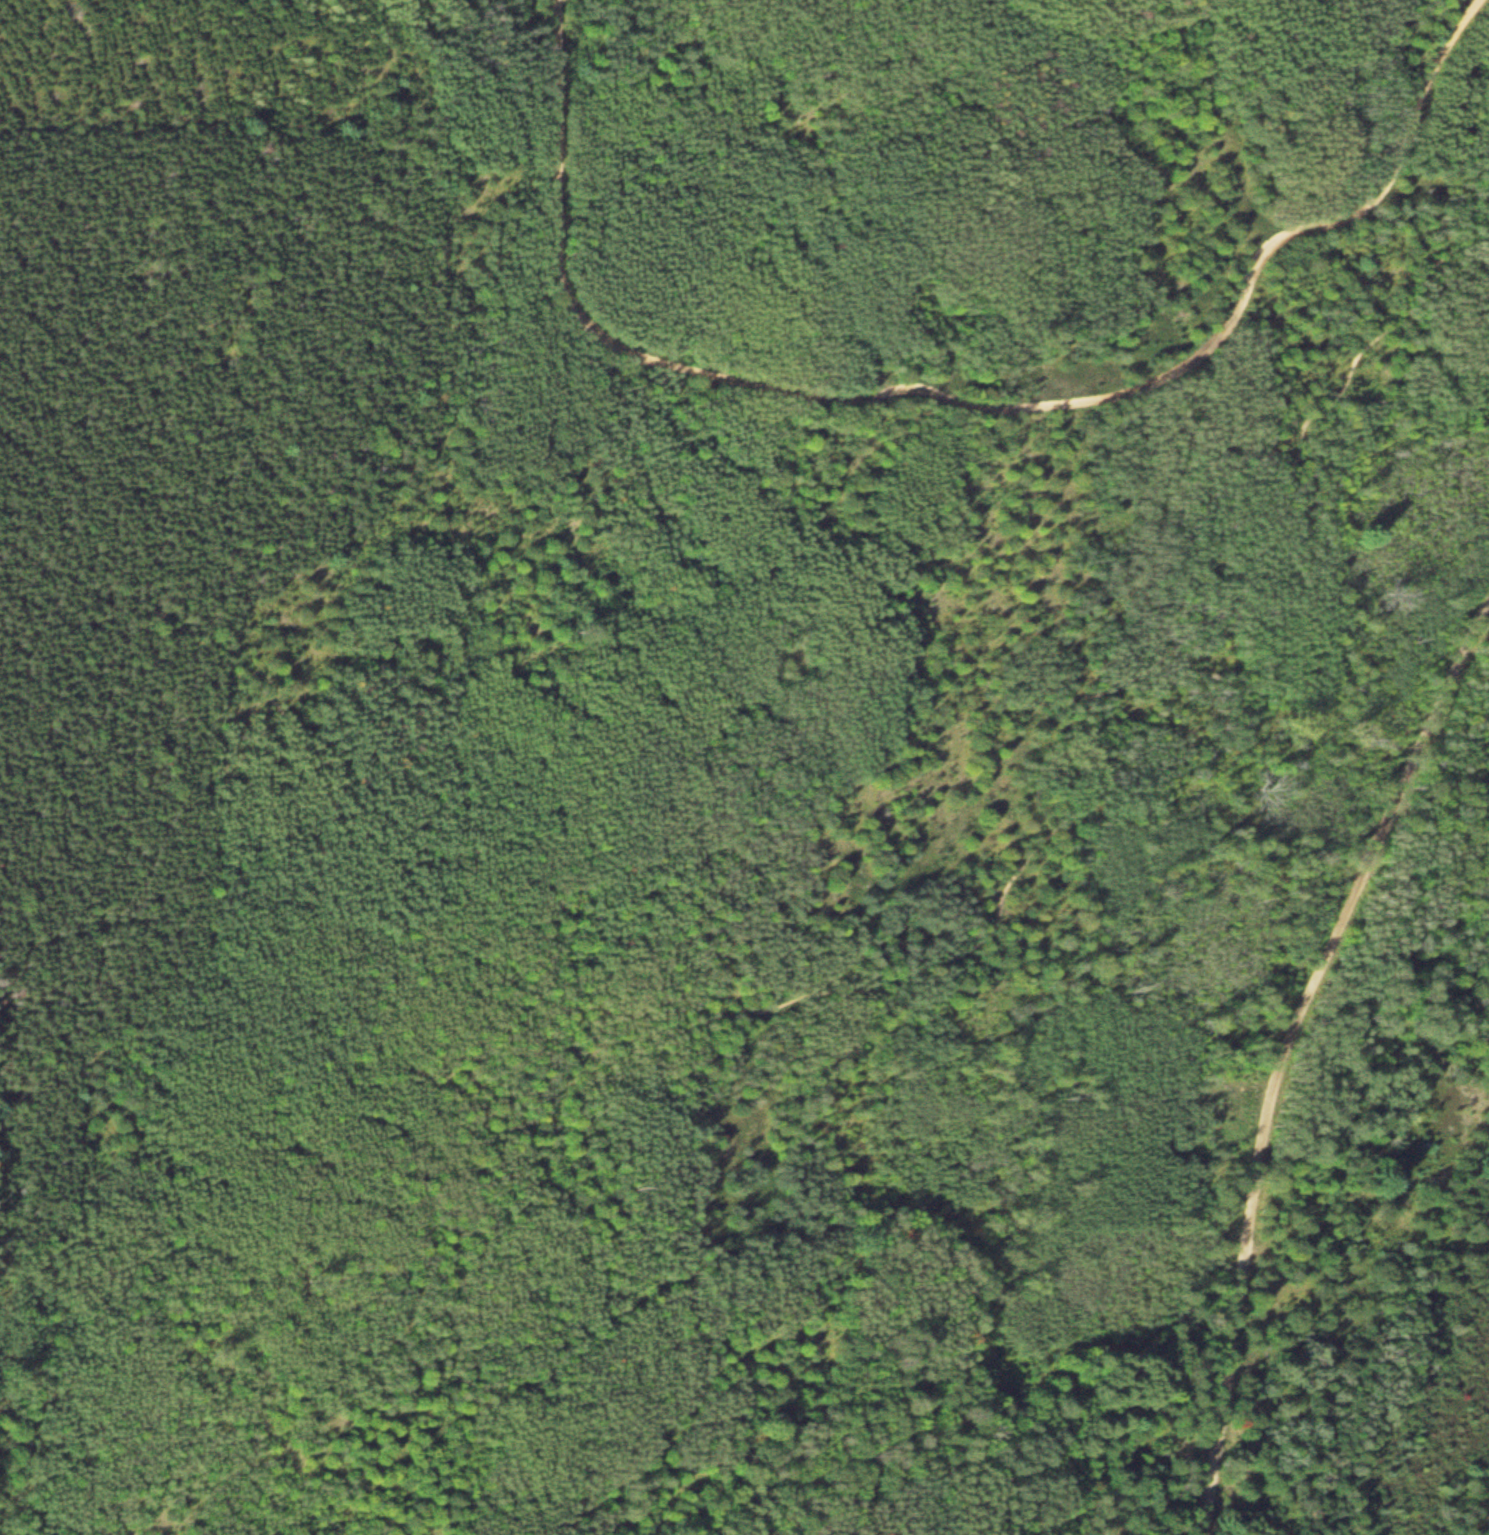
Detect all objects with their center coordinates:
road: (961, 403)
road: (845, 993)
road: (1287, 1049)

